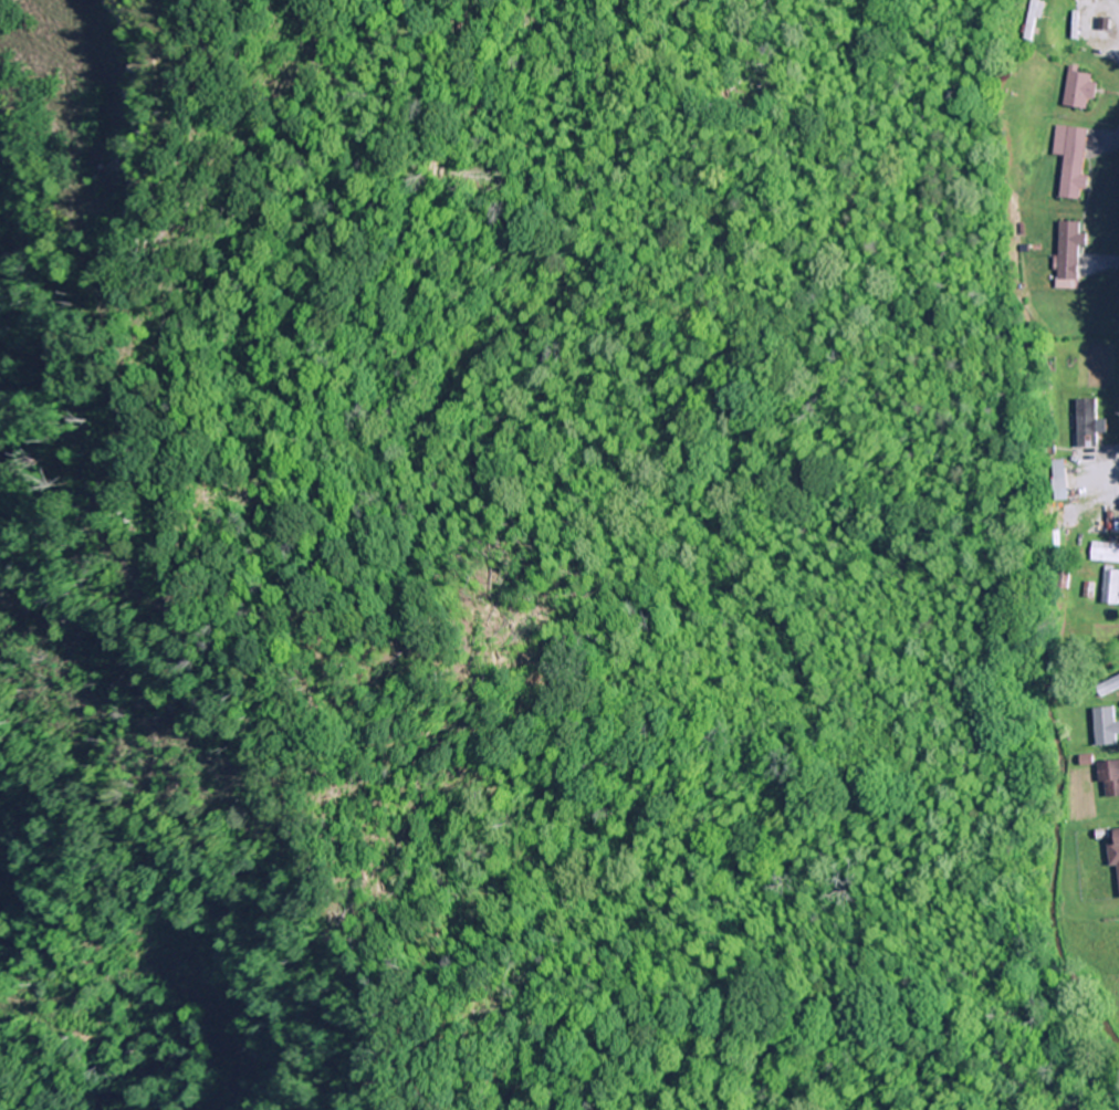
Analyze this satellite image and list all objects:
building: (1085, 0)
building: (1033, 19)
building: (1080, 92)
building: (1073, 161)
building: (1070, 255)
building: (1087, 322)
building: (1088, 423)
building: (1059, 475)
building: (1113, 526)
building: (1106, 553)
building: (1111, 587)
building: (1109, 688)
building: (1107, 726)
building: (1110, 779)
building: (1115, 855)

